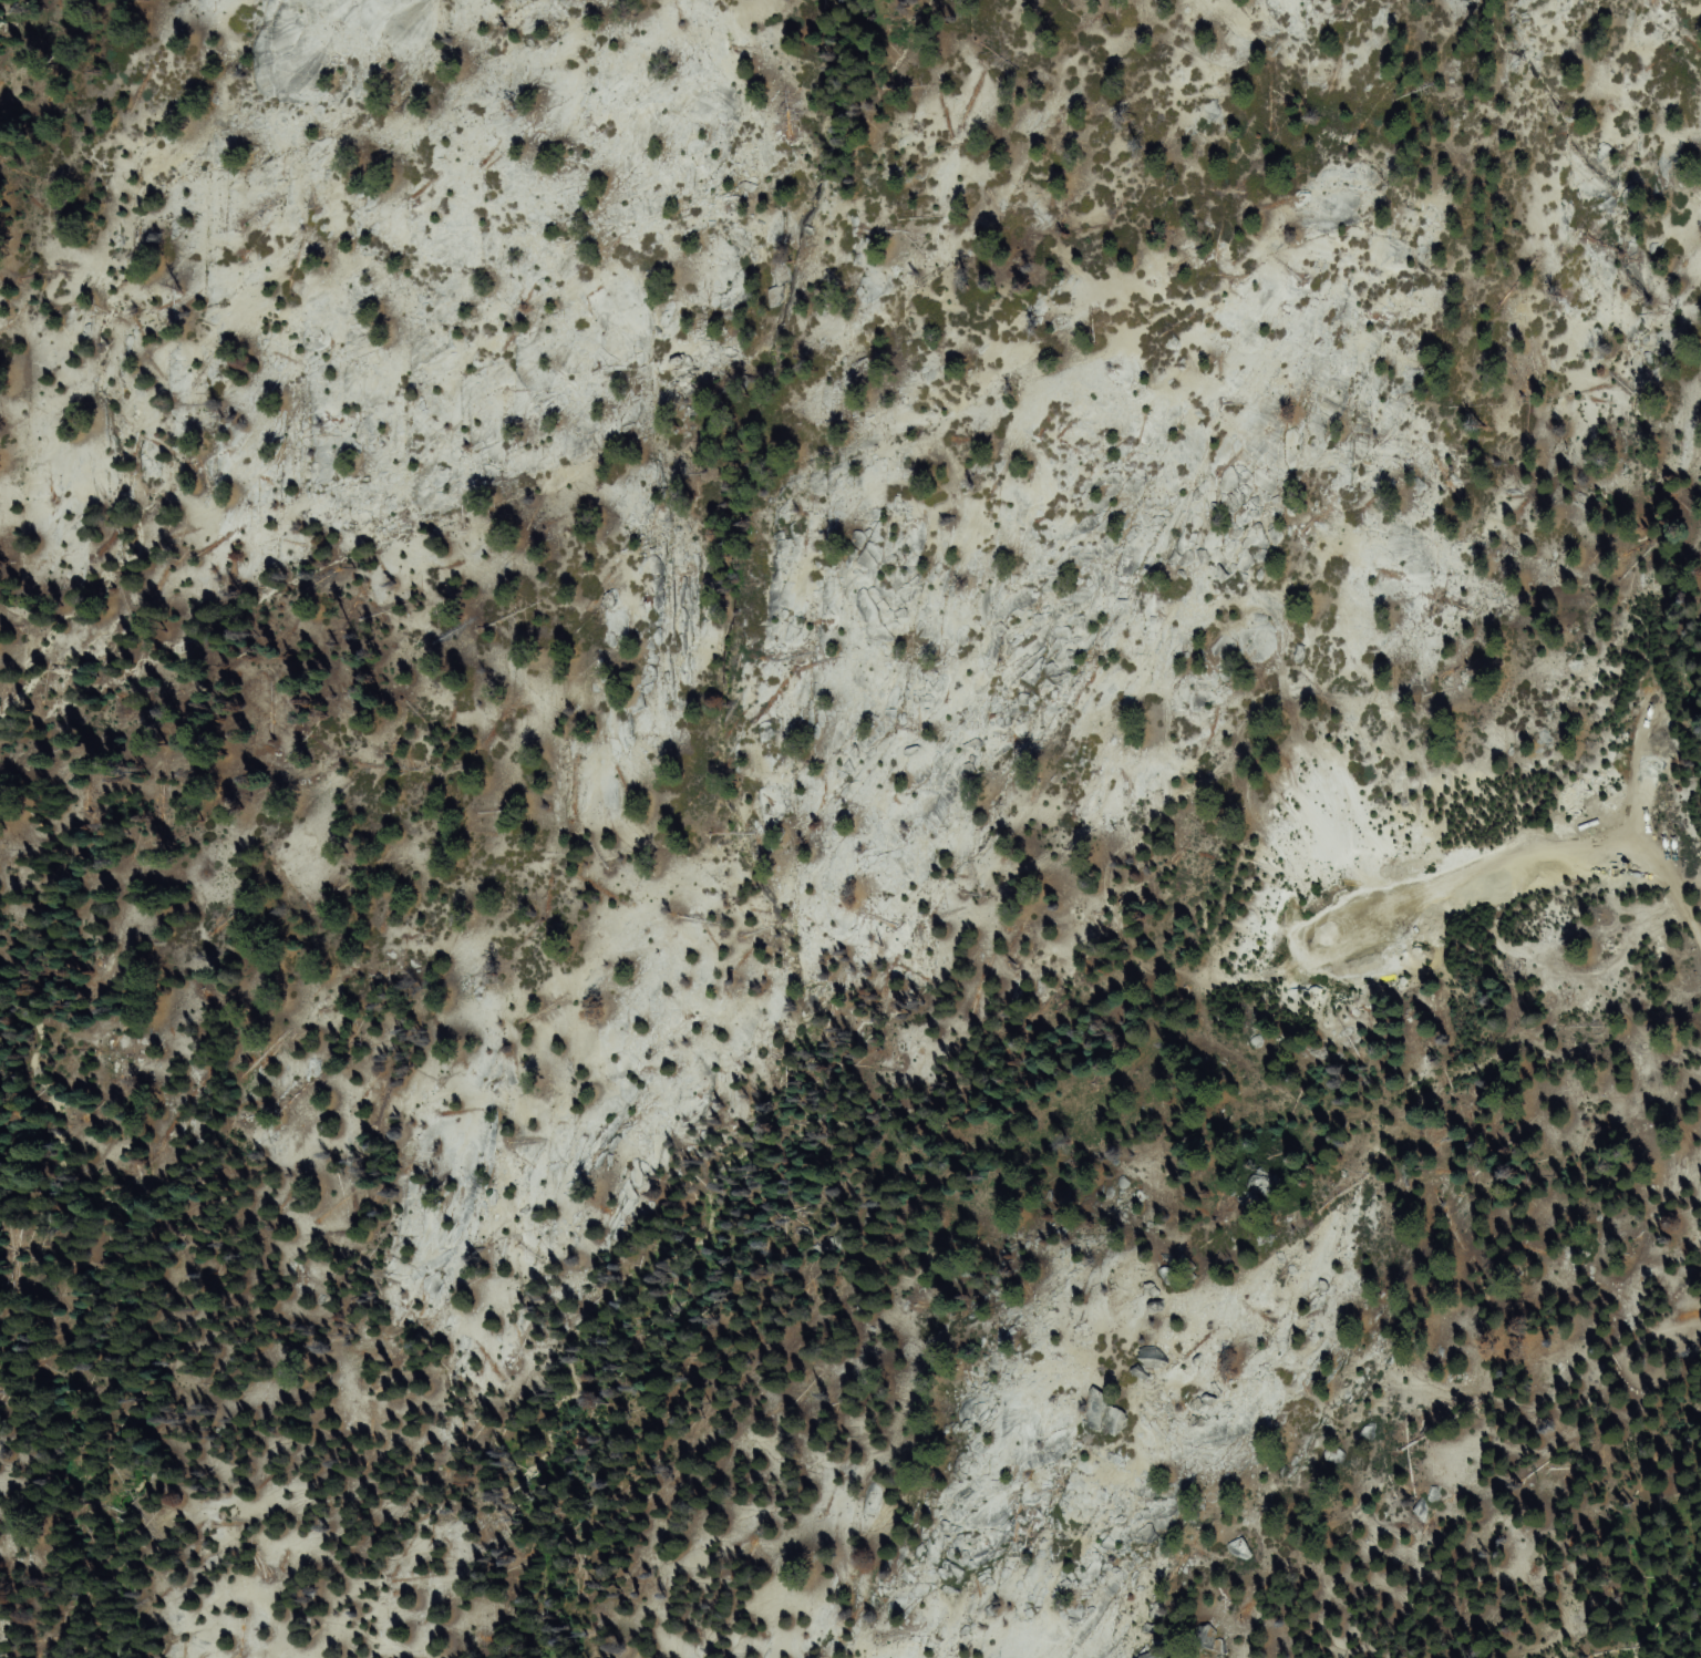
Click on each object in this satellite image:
quarry: (1516, 885)
road: (1235, 969)

